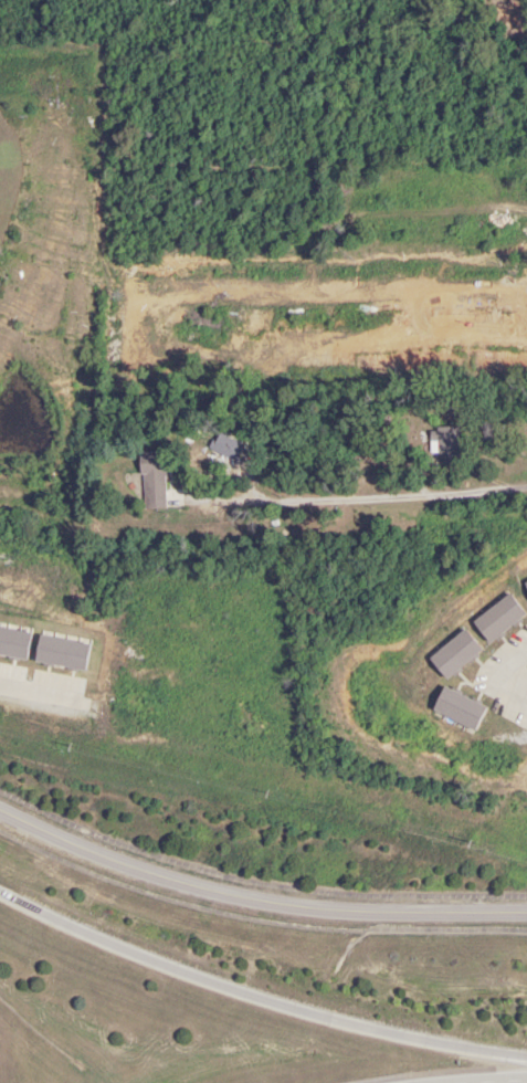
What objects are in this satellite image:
building: (445, 444)
building: (151, 480)
road: (357, 498)
road: (256, 902)
road: (257, 990)
road: (478, 1076)

